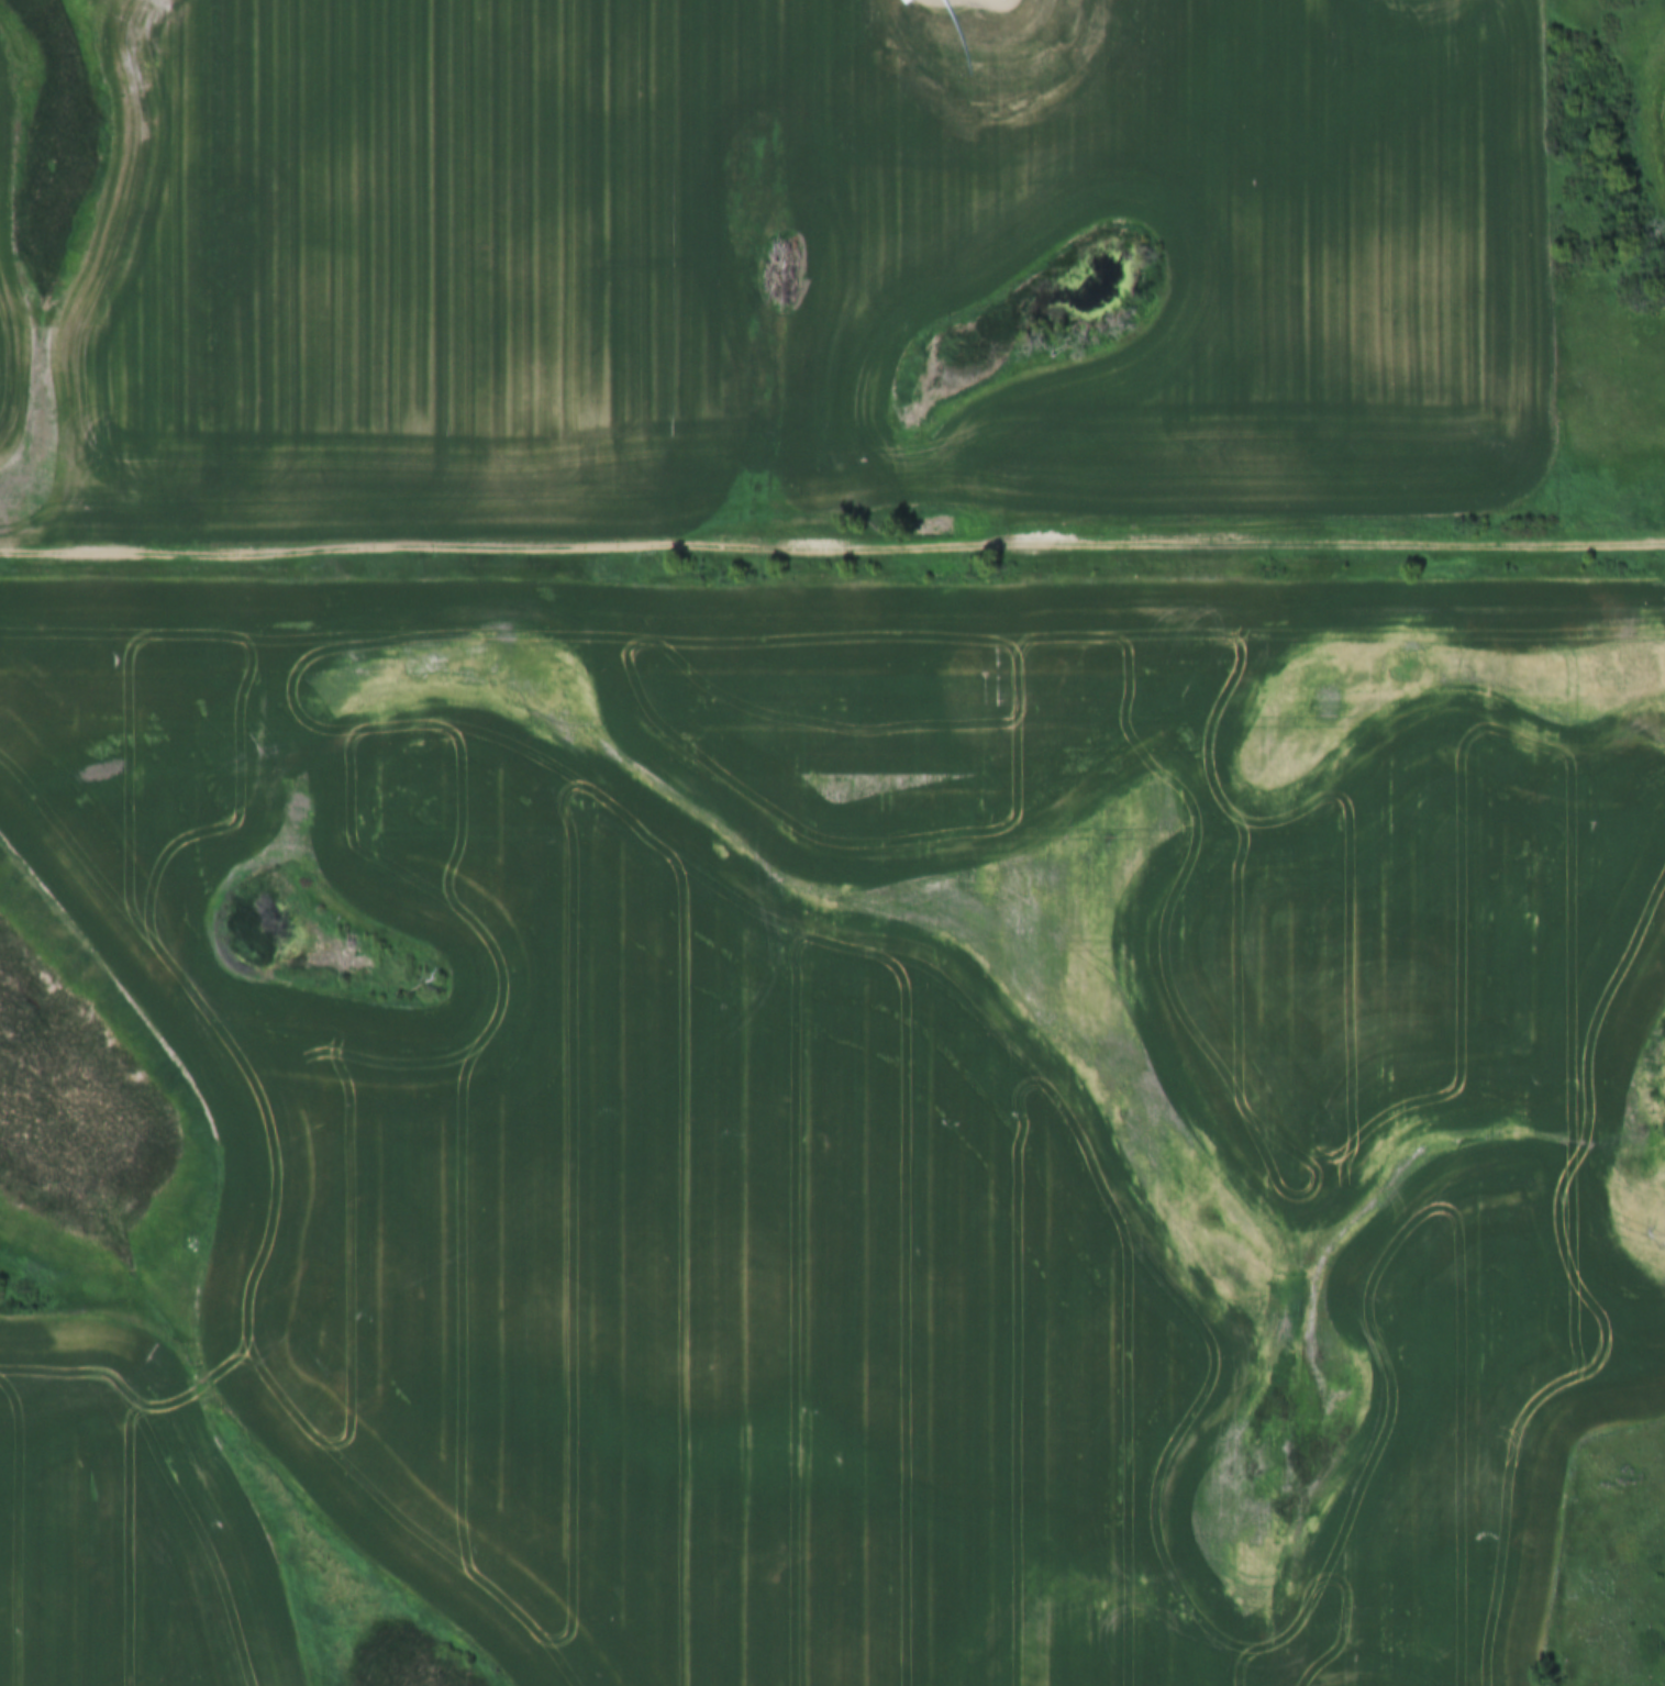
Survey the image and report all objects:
road: (832, 543)

